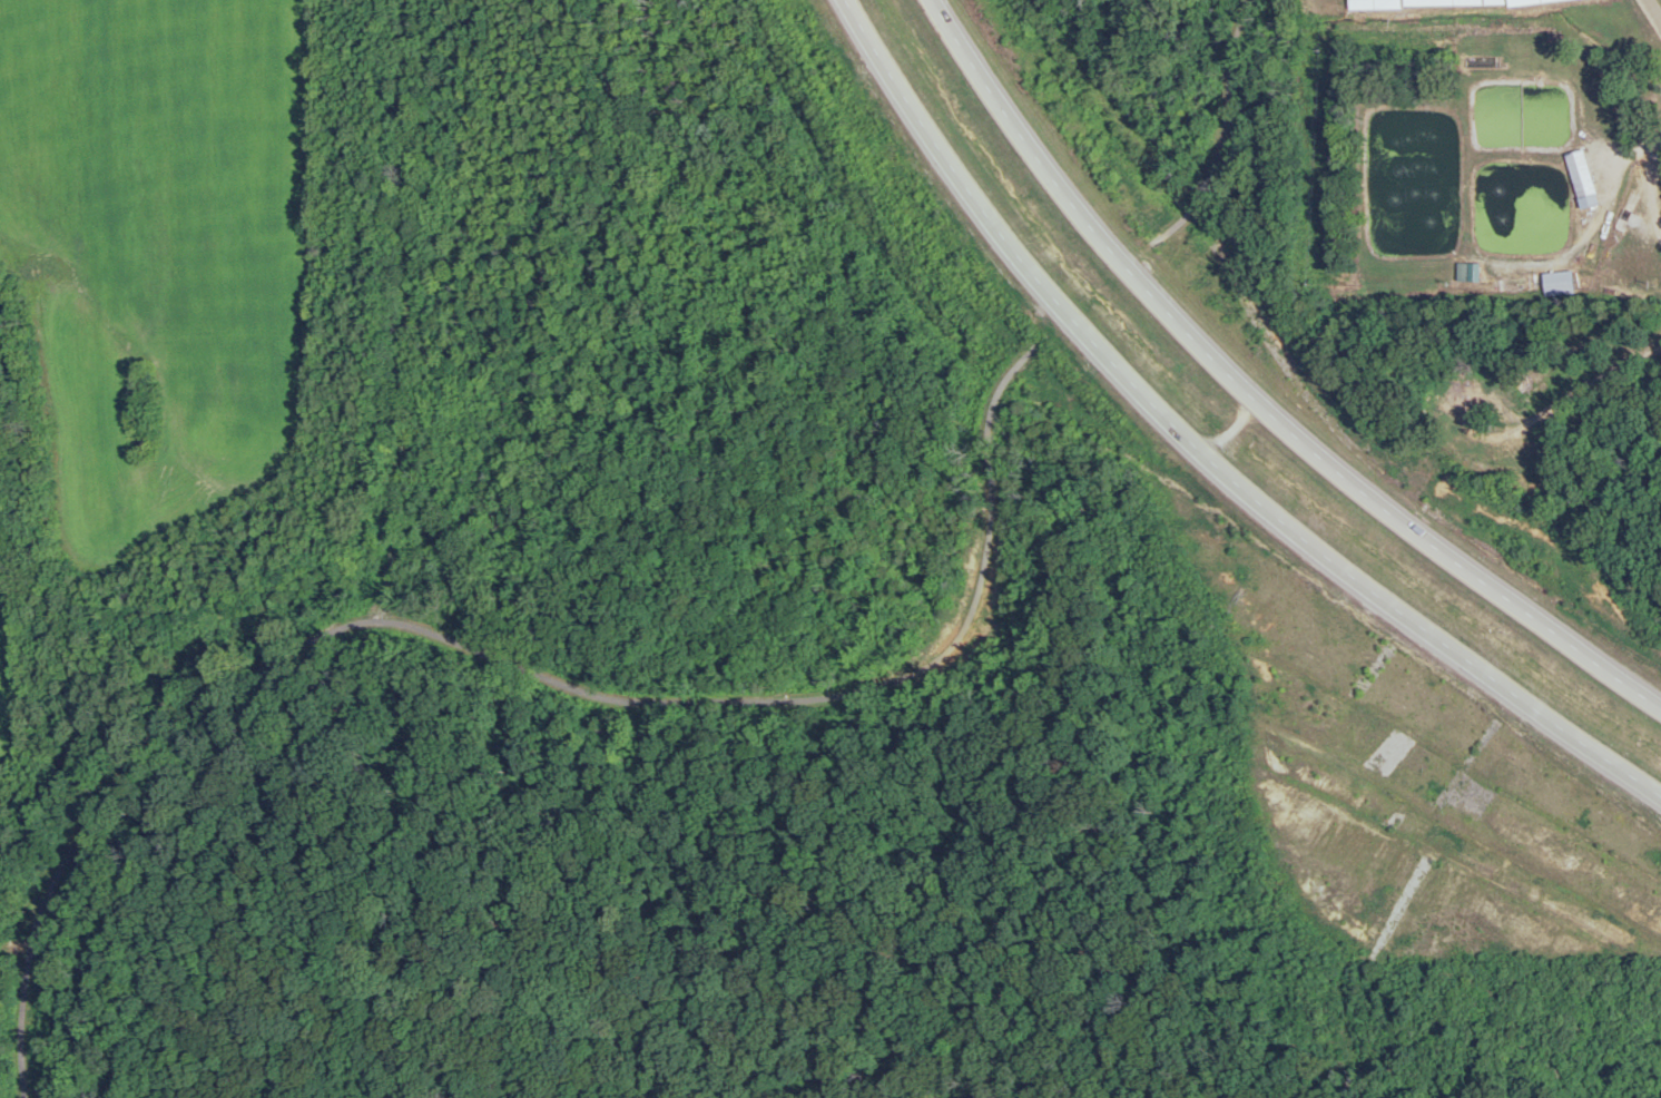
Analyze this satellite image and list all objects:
building: (1537, 2)
building: (1376, 3)
road: (1654, 9)
building: (1582, 179)
building: (1555, 283)
road: (1255, 402)
road: (1206, 455)
road: (360, 614)

